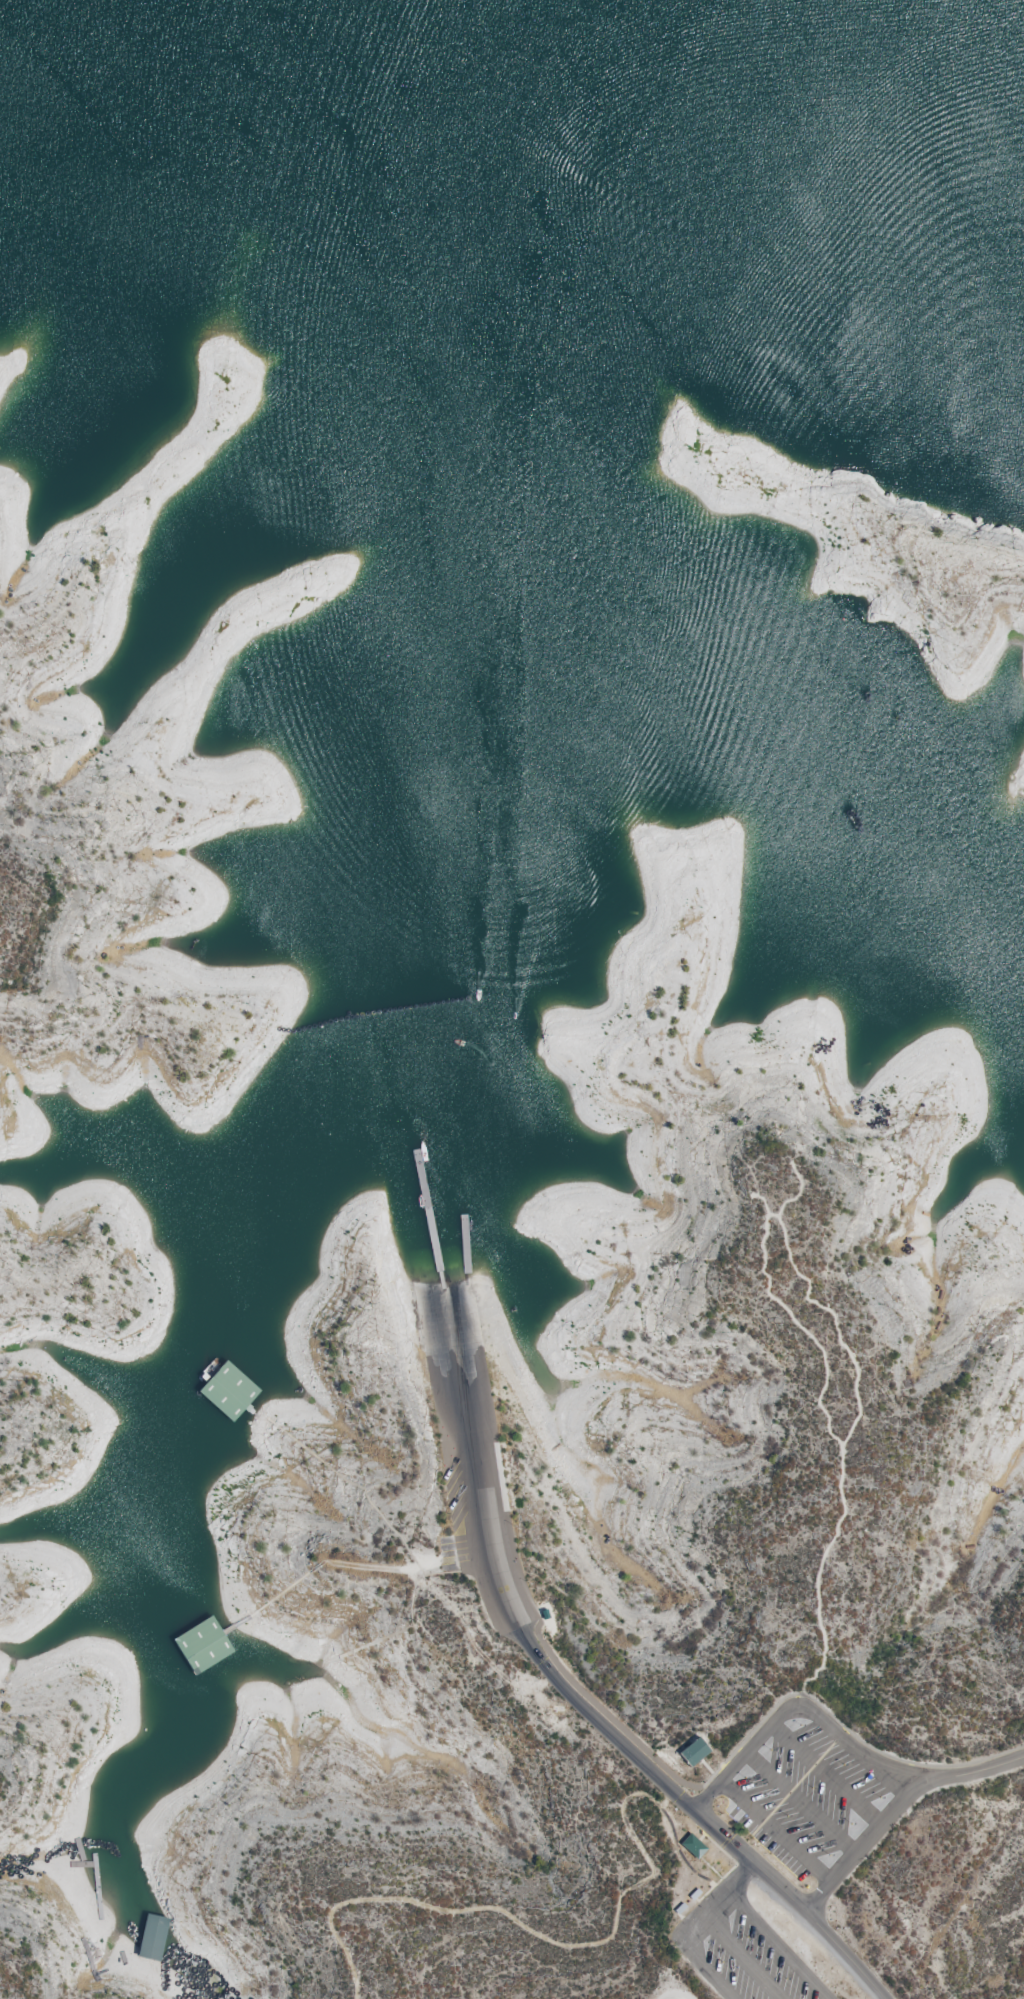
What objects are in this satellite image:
river: (565, 142)
building: (261, 1609)
building: (344, 1654)
building: (694, 1752)
road: (651, 1769)
road: (900, 1809)
building: (692, 1847)
road: (684, 1927)
road: (778, 1943)
road: (739, 1955)

